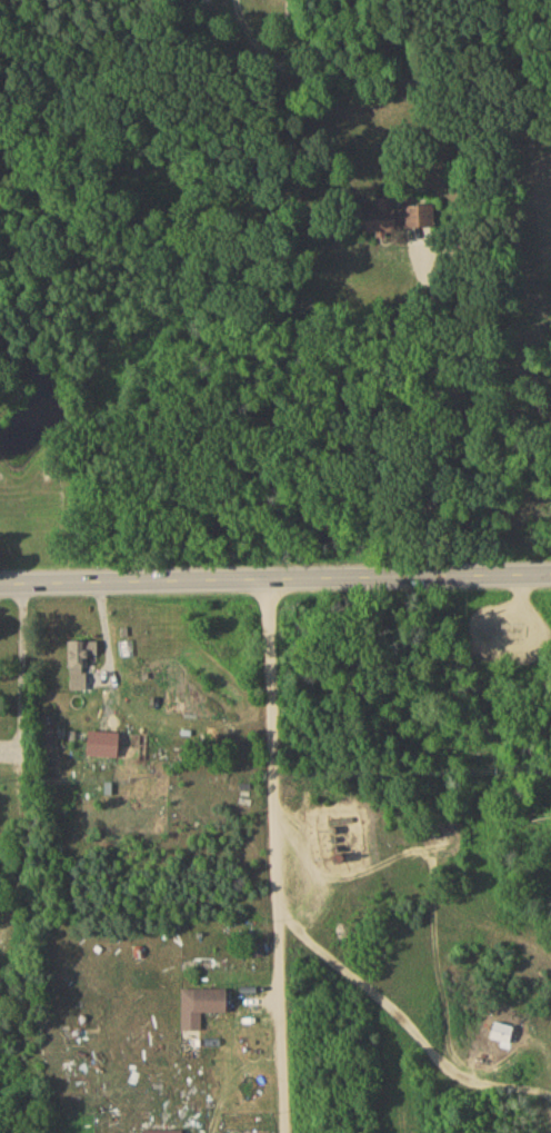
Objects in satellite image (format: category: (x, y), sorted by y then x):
building: (399, 220)
road: (443, 402)
road: (275, 579)
building: (81, 666)
road: (26, 762)
road: (274, 856)
road: (381, 995)
building: (203, 1010)
building: (502, 1036)
road: (509, 1045)

